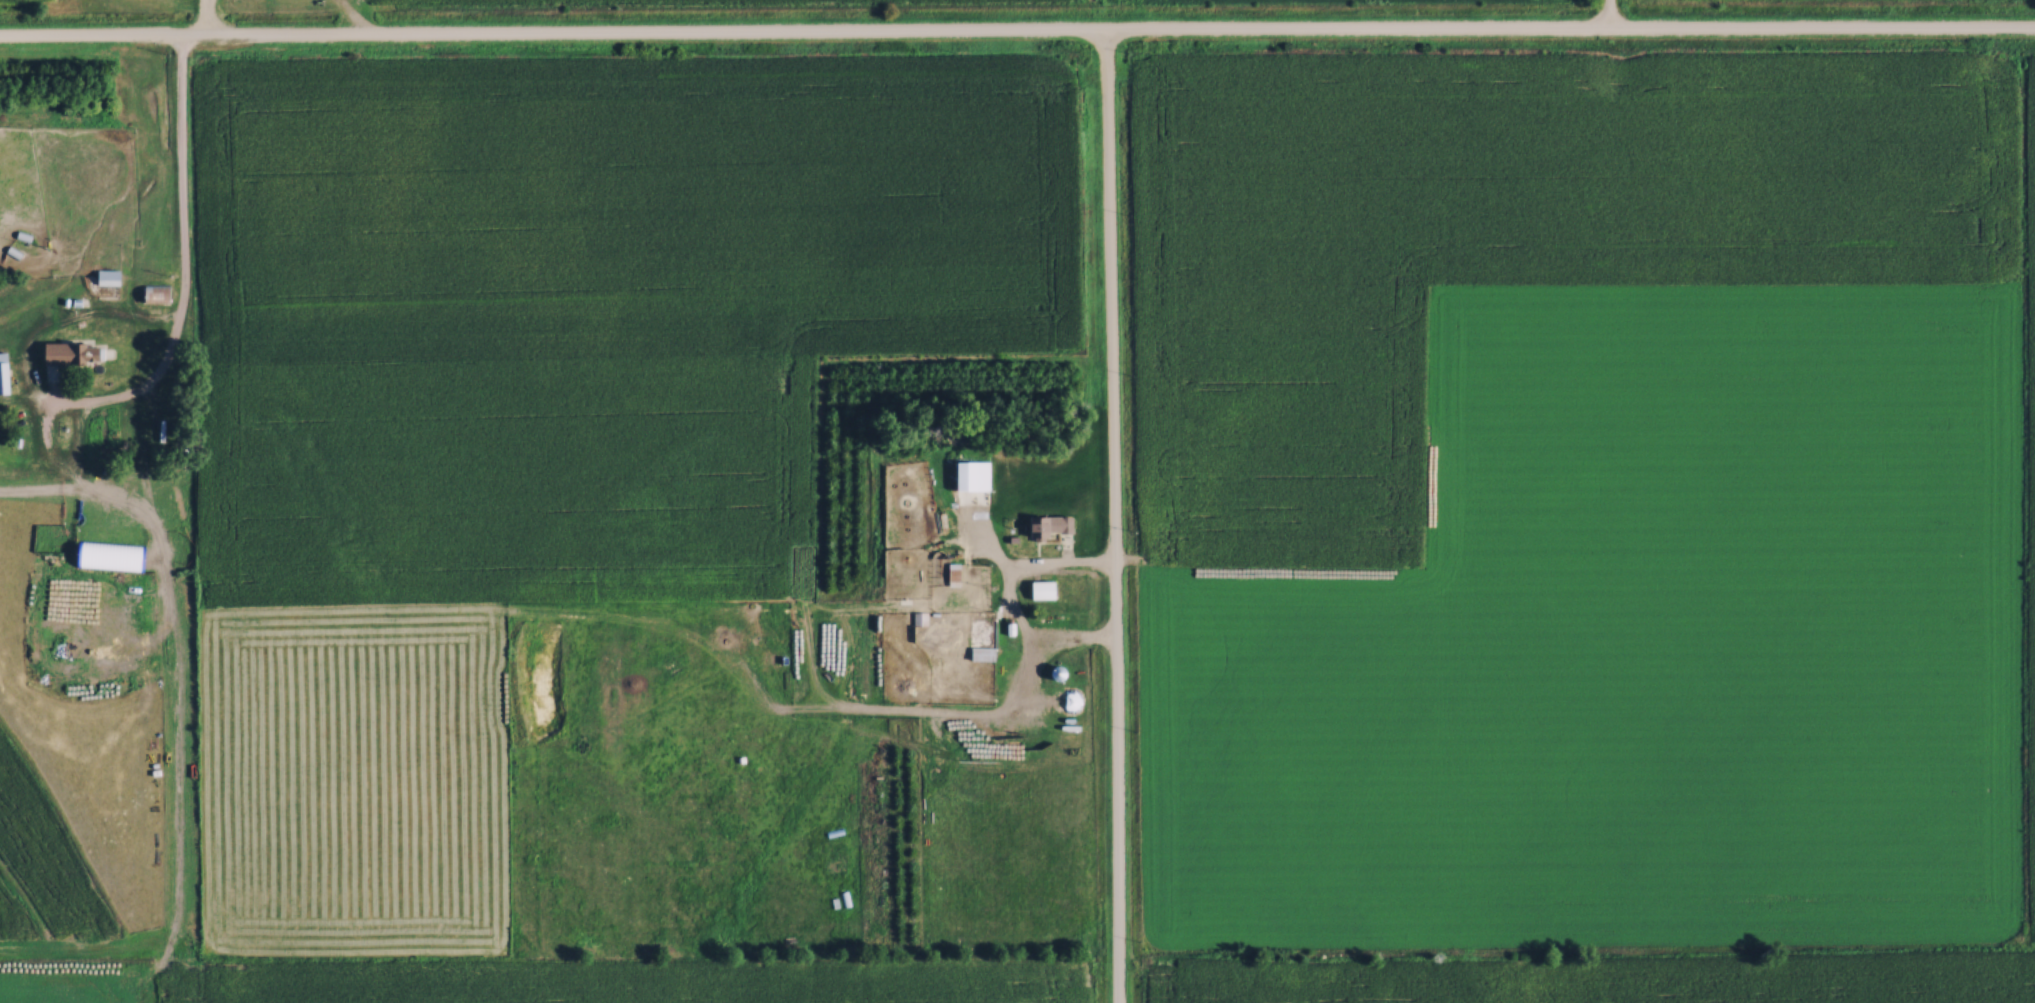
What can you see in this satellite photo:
road: (1609, 16)
road: (206, 20)
road: (1017, 35)
road: (184, 270)
building: (105, 277)
building: (154, 293)
building: (72, 353)
road: (1112, 517)
building: (1046, 524)
building: (952, 573)
building: (1039, 588)
building: (919, 618)
building: (981, 652)
building: (1056, 671)

